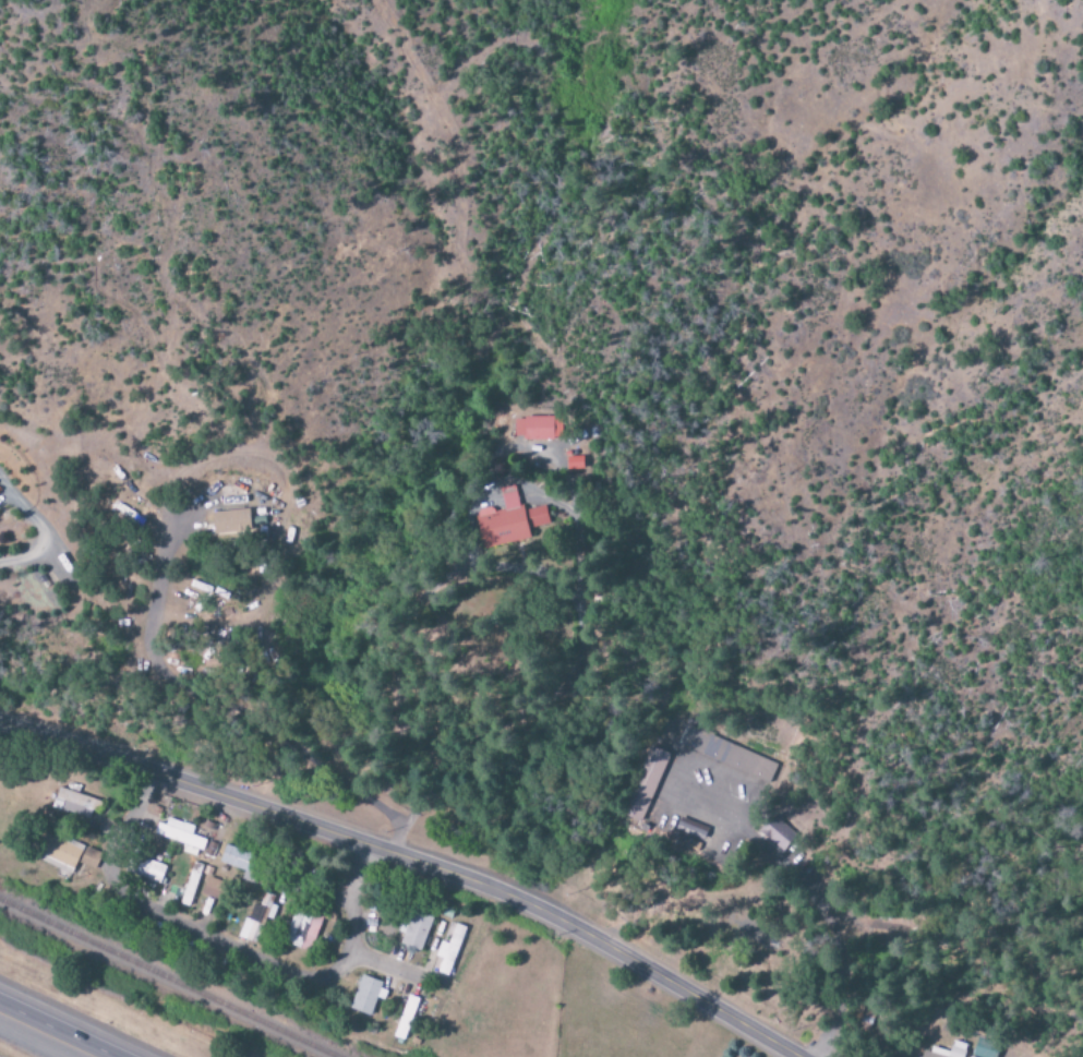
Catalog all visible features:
building: (533, 429)
building: (574, 461)
building: (509, 521)
building: (229, 523)
building: (729, 755)
building: (643, 784)
building: (74, 804)
building: (777, 832)
building: (180, 836)
building: (65, 853)
road: (410, 857)
building: (233, 858)
building: (152, 872)
building: (191, 885)
building: (210, 888)
building: (257, 921)
building: (302, 929)
building: (416, 932)
road: (213, 938)
building: (449, 952)
railway: (157, 983)
building: (366, 996)
road: (57, 1030)
building: (986, 1048)
building: (959, 1050)

